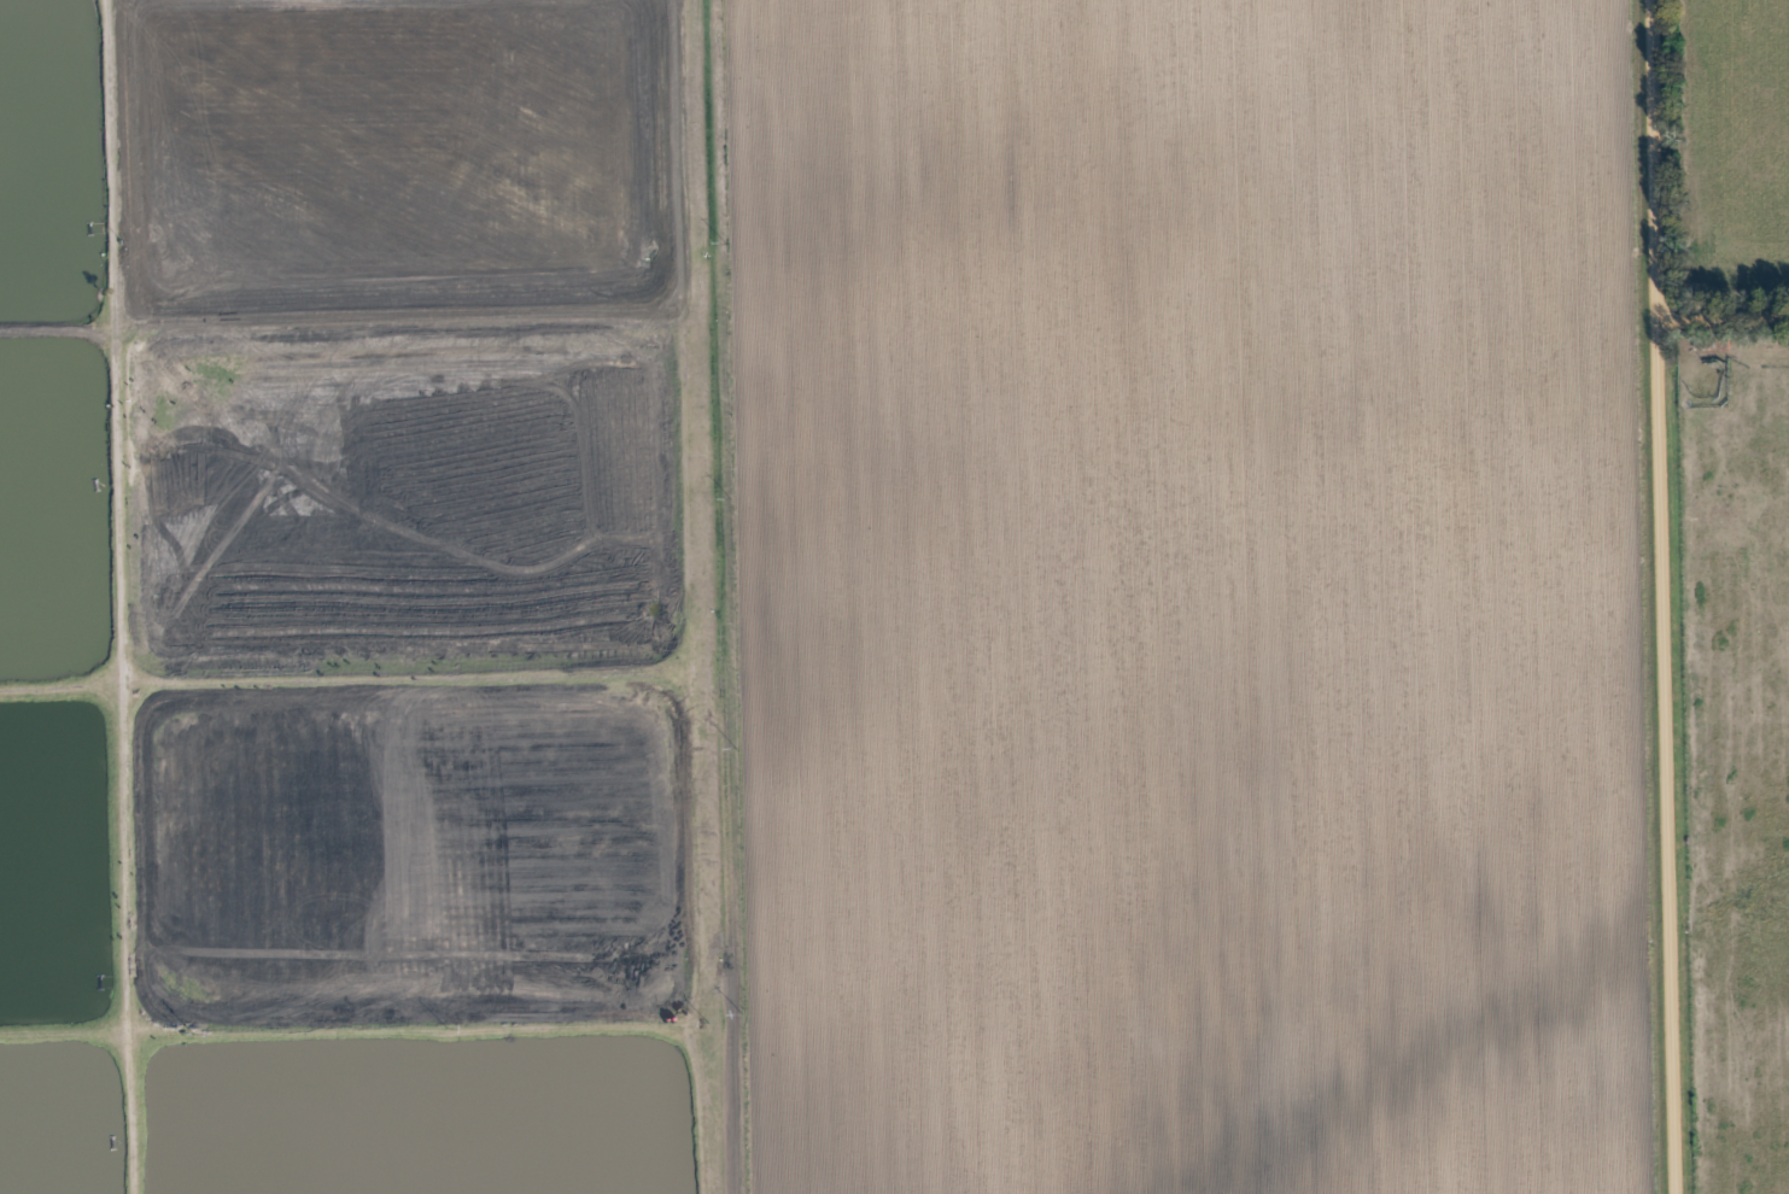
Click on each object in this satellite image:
road: (1723, 312)
road: (1664, 597)

